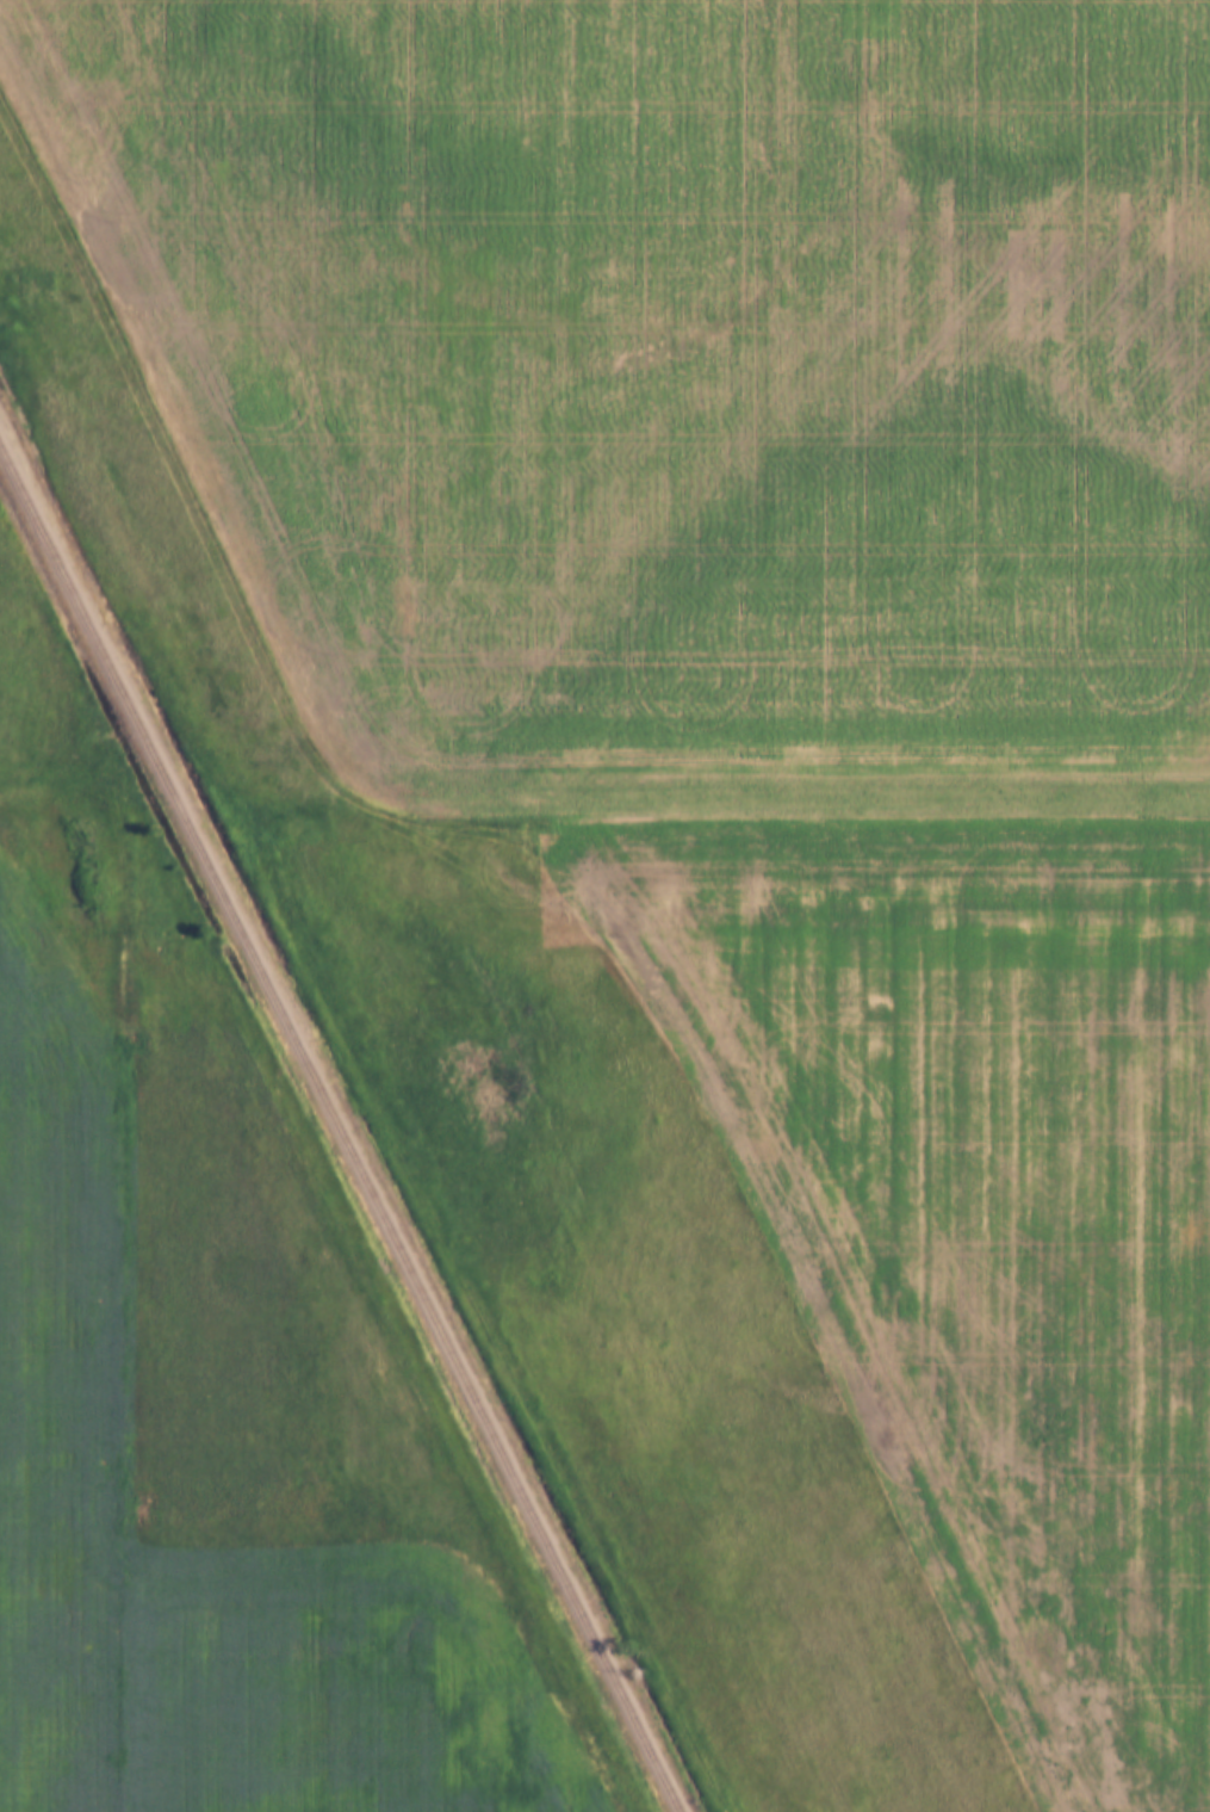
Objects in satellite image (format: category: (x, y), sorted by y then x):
railway: (337, 1132)

